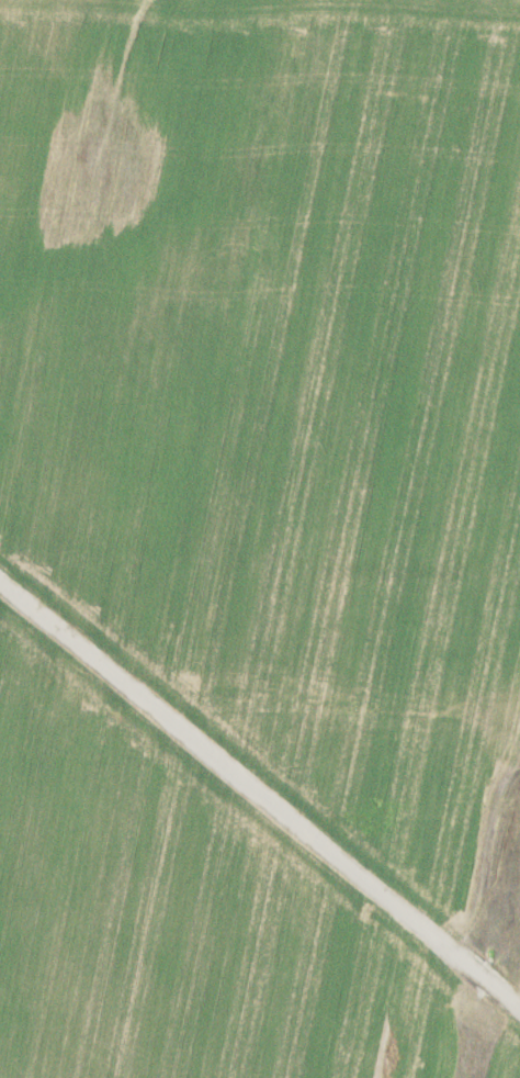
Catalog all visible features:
crop: (260, 539)

